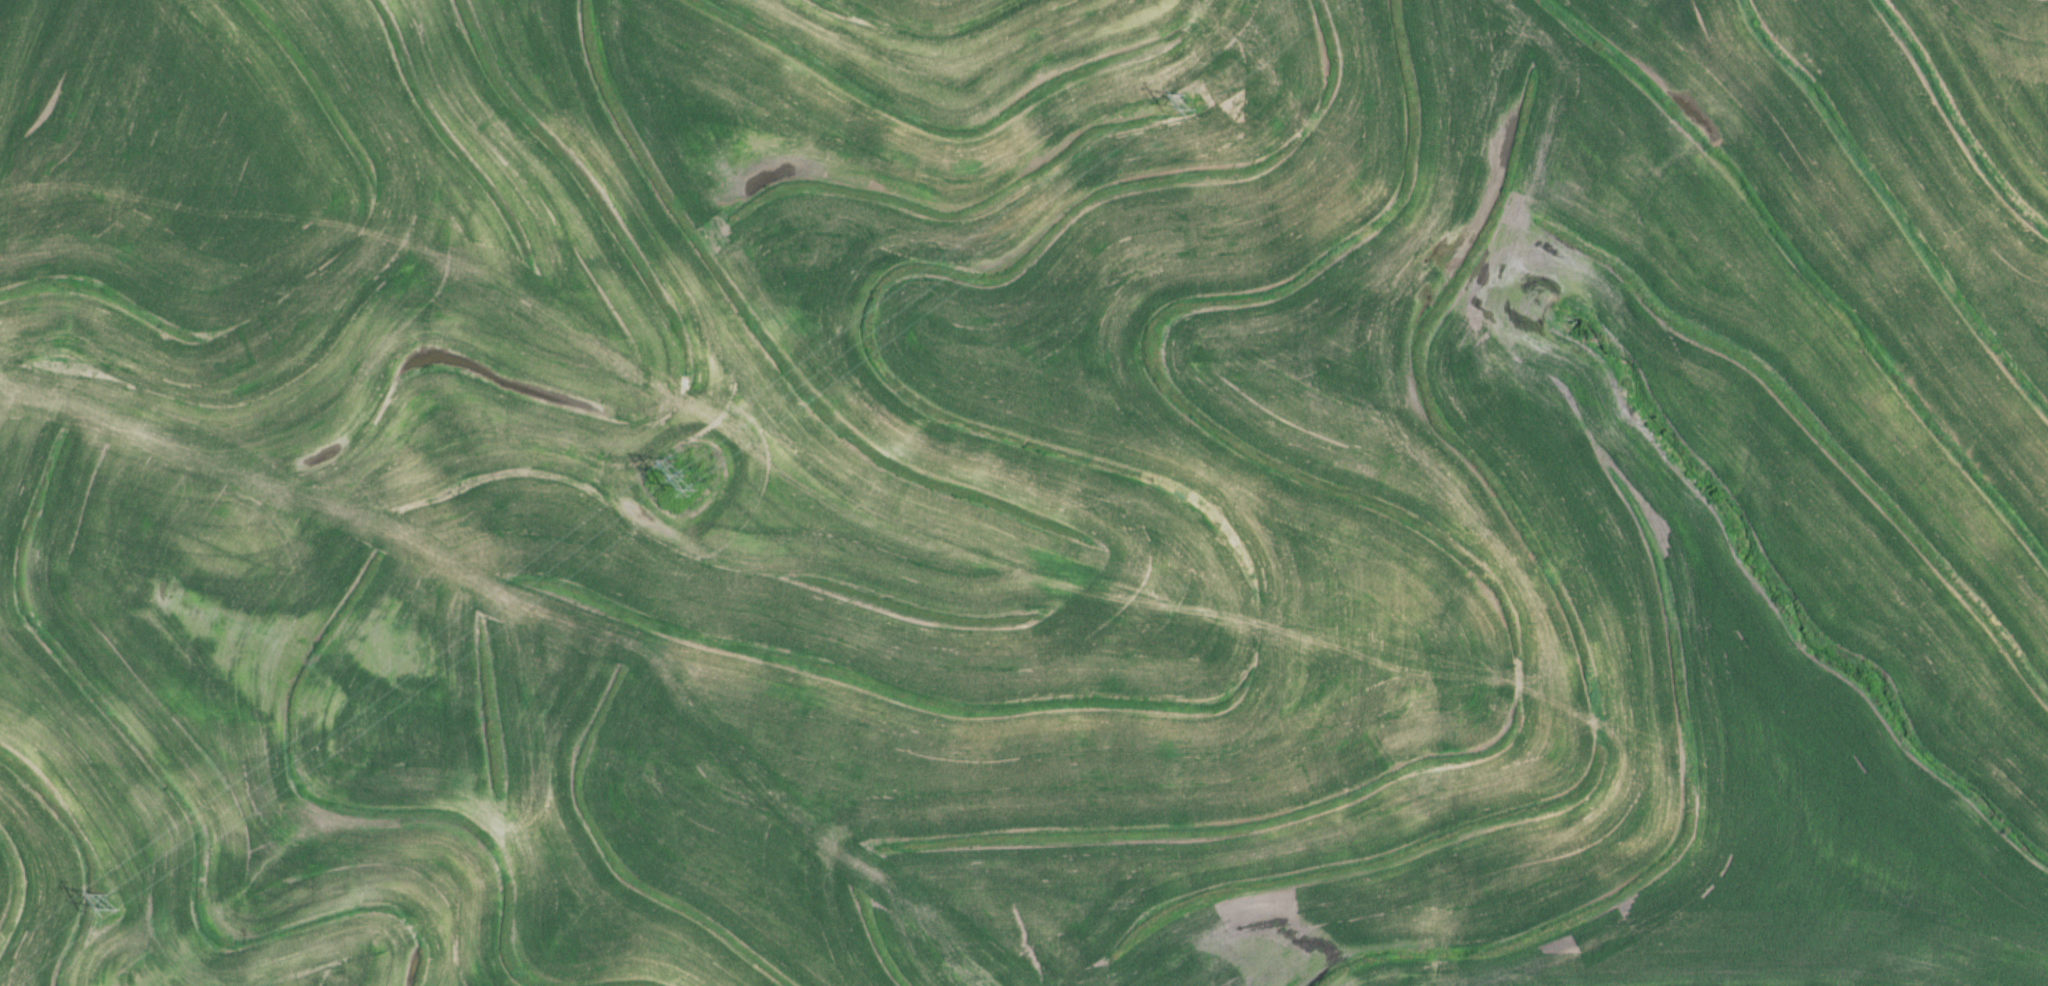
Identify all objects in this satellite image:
power tower: (1185, 101)
power tower: (686, 472)
power tower: (109, 898)

